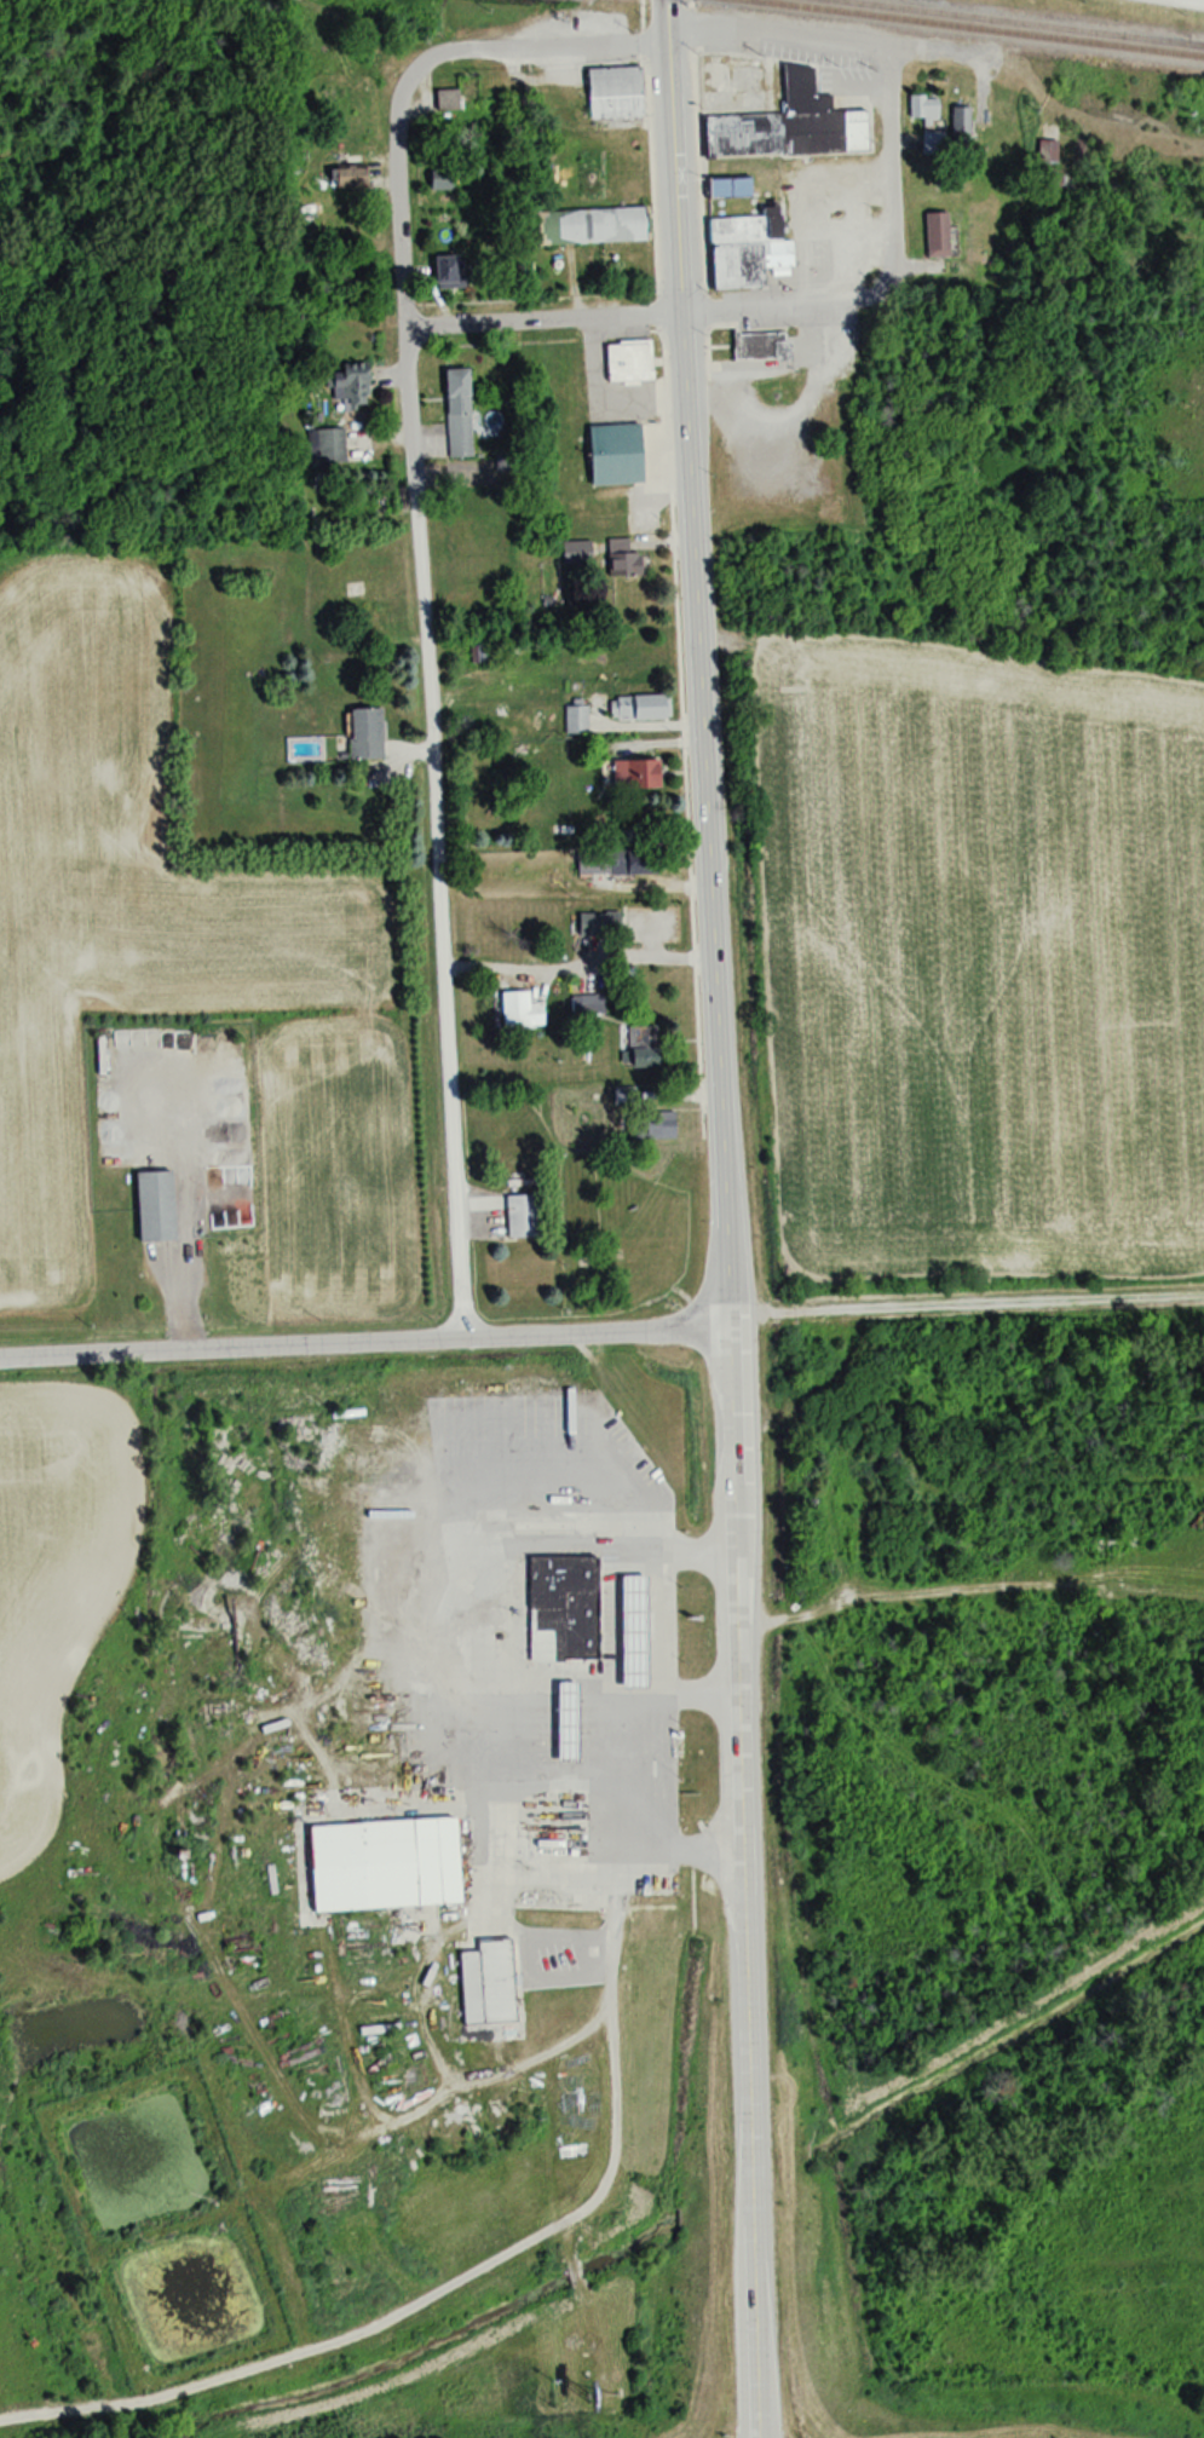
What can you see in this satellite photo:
railway: (1020, 22)
railway: (977, 28)
road: (835, 40)
railway: (1194, 44)
road: (536, 48)
building: (611, 91)
building: (445, 103)
building: (924, 109)
building: (788, 125)
building: (961, 127)
building: (604, 167)
building: (346, 175)
building: (726, 188)
building: (587, 225)
building: (934, 234)
building: (744, 248)
building: (447, 271)
road: (764, 305)
building: (759, 345)
building: (627, 362)
building: (350, 393)
building: (455, 411)
building: (323, 445)
building: (611, 454)
building: (574, 552)
building: (620, 558)
road: (693, 663)
road: (425, 699)
building: (636, 707)
building: (363, 733)
building: (629, 773)
building: (616, 861)
building: (593, 923)
road: (574, 959)
building: (584, 1004)
building: (517, 1010)
building: (640, 1042)
building: (652, 1125)
building: (151, 1206)
building: (518, 1216)
road: (364, 1339)
building: (565, 1603)
building: (628, 1629)
road: (668, 1656)
road: (486, 1679)
building: (560, 1718)
road: (634, 1762)
building: (381, 1864)
road: (741, 1881)
building: (485, 1983)
river: (1007, 2044)
road: (473, 2079)
river: (741, 2185)
road: (392, 2306)
river: (424, 2329)

